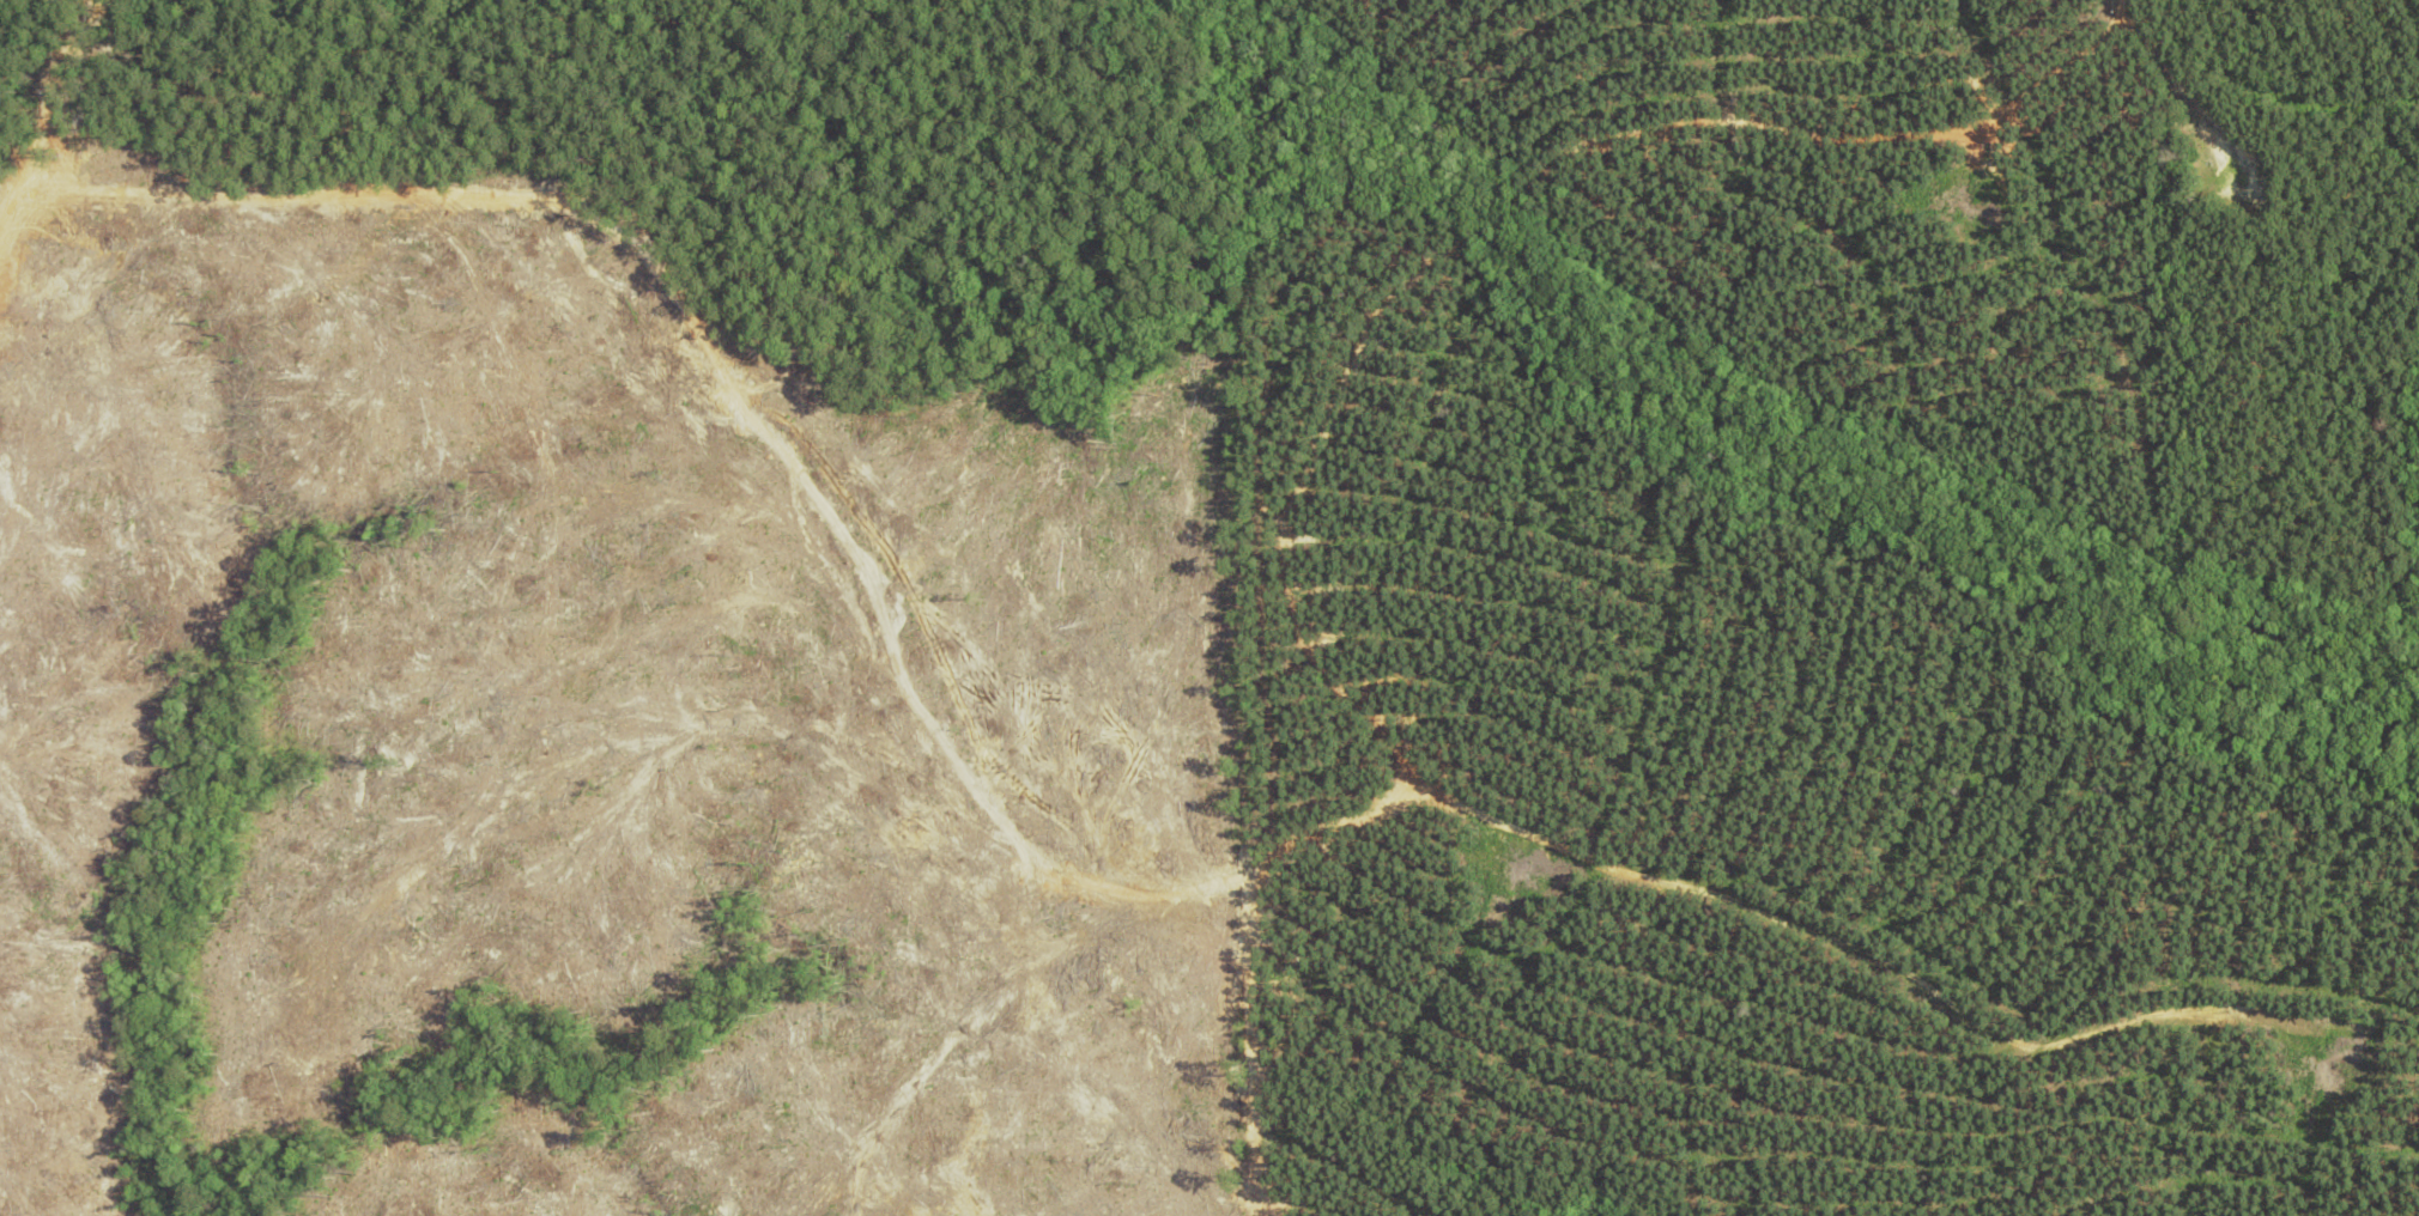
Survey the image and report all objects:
building: (2212, 153)

